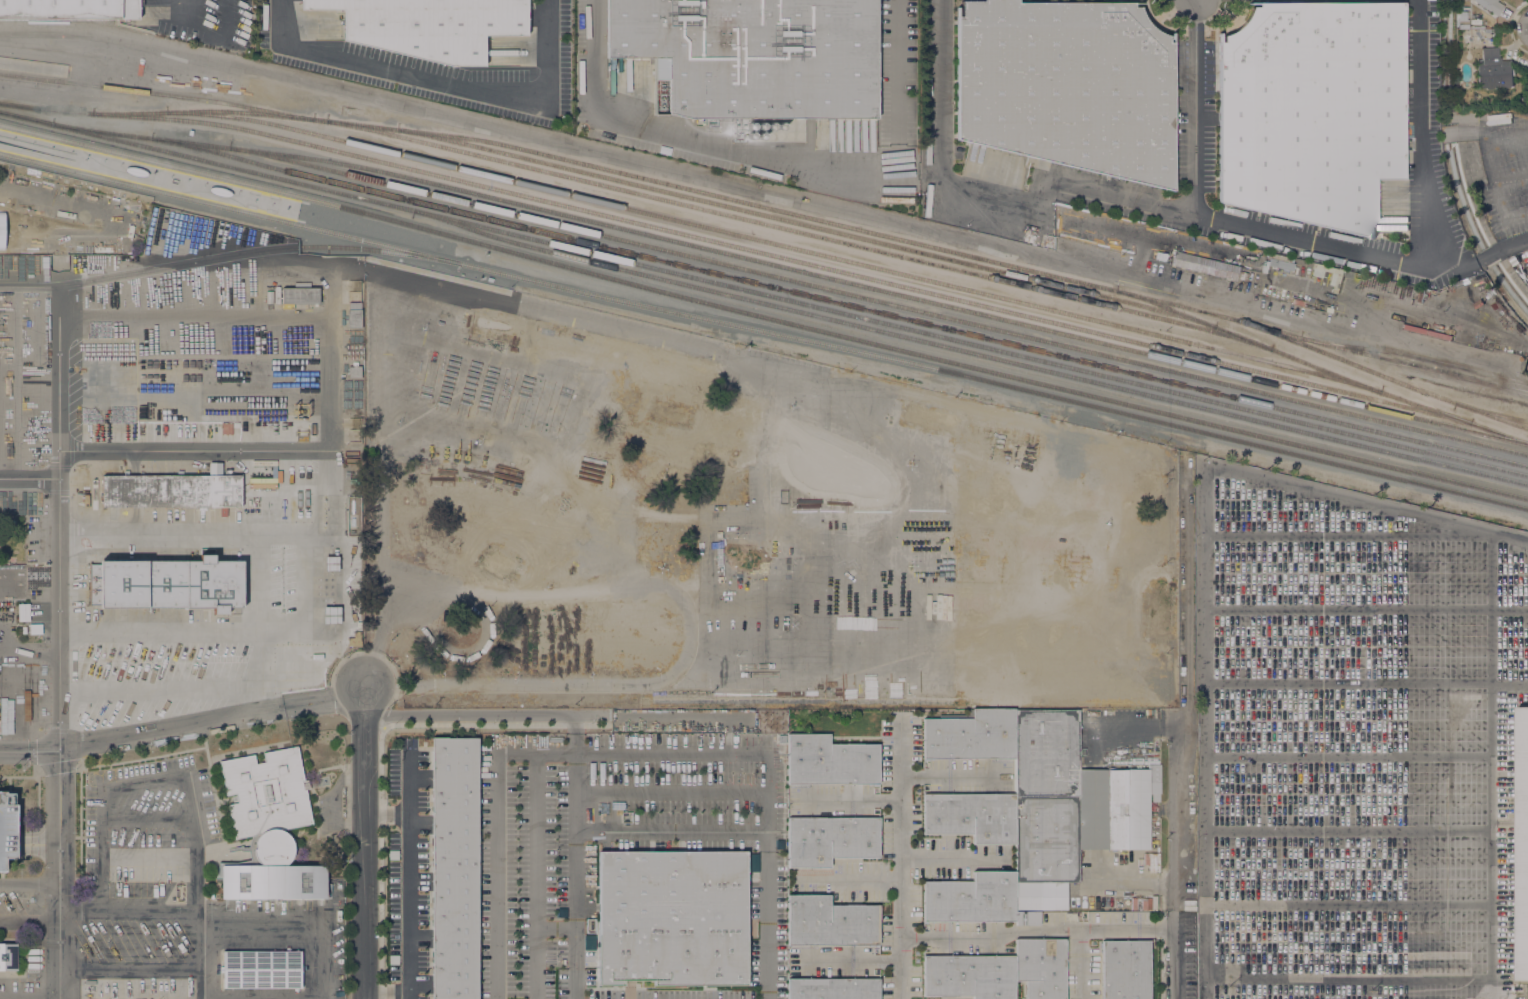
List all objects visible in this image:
building: (1490, 5)
road: (202, 8)
building: (68, 9)
building: (1463, 23)
building: (429, 25)
building: (754, 55)
building: (1494, 70)
railway: (66, 72)
road: (439, 84)
building: (1068, 86)
railway: (153, 92)
building: (1312, 111)
road: (1486, 149)
road: (777, 156)
road: (1476, 168)
road: (707, 177)
road: (1427, 177)
road: (1511, 180)
road: (985, 190)
railway: (294, 206)
railway: (769, 207)
road: (1474, 209)
road: (1213, 218)
road: (1500, 218)
parking lot: (66, 219)
road: (119, 222)
railway: (808, 225)
railway: (796, 230)
railway: (774, 242)
railway: (227, 252)
railway: (783, 257)
building: (1204, 265)
railway: (793, 268)
building: (1243, 275)
road: (324, 278)
road: (1515, 278)
railway: (764, 293)
building: (300, 294)
building: (269, 297)
railway: (839, 302)
railway: (889, 304)
building: (354, 315)
railway: (763, 315)
railway: (764, 329)
railway: (971, 351)
road: (1475, 359)
railway: (1415, 365)
railway: (1320, 367)
building: (354, 372)
railway: (1383, 375)
railway: (1427, 380)
road: (330, 385)
railway: (1457, 396)
railway: (1495, 414)
road: (30, 477)
road: (60, 486)
building: (172, 490)
road: (327, 494)
building: (352, 521)
road: (206, 539)
road: (292, 539)
road: (1358, 544)
building: (331, 563)
road: (1205, 580)
building: (167, 584)
road: (1366, 601)
building: (23, 612)
building: (331, 615)
building: (35, 629)
building: (21, 630)
road: (199, 631)
building: (355, 639)
road: (1367, 656)
road: (1186, 684)
road: (364, 691)
road: (1355, 711)
road: (485, 715)
road: (613, 715)
road: (182, 727)
parking lot: (1357, 745)
road: (1354, 753)
building: (1112, 759)
building: (830, 761)
road: (952, 775)
road: (766, 796)
road: (849, 799)
building: (1029, 813)
road: (1346, 814)
road: (387, 815)
building: (267, 829)
building: (7, 830)
parking lot: (7, 830)
road: (1494, 831)
building: (830, 840)
building: (1522, 844)
road: (364, 849)
road: (576, 857)
road: (901, 857)
road: (950, 858)
road: (381, 868)
building: (453, 868)
road: (1354, 872)
road: (60, 876)
road: (410, 876)
road: (1133, 877)
road: (30, 884)
road: (122, 913)
building: (672, 918)
road: (30, 921)
building: (830, 922)
road: (768, 925)
road: (1157, 926)
road: (1020, 930)
road: (1354, 931)
road: (282, 933)
road: (1176, 954)
building: (8, 957)
building: (262, 969)
building: (1125, 969)
building: (1000, 972)
building: (833, 988)
road: (1358, 989)
road: (387, 992)
road: (61, 993)

